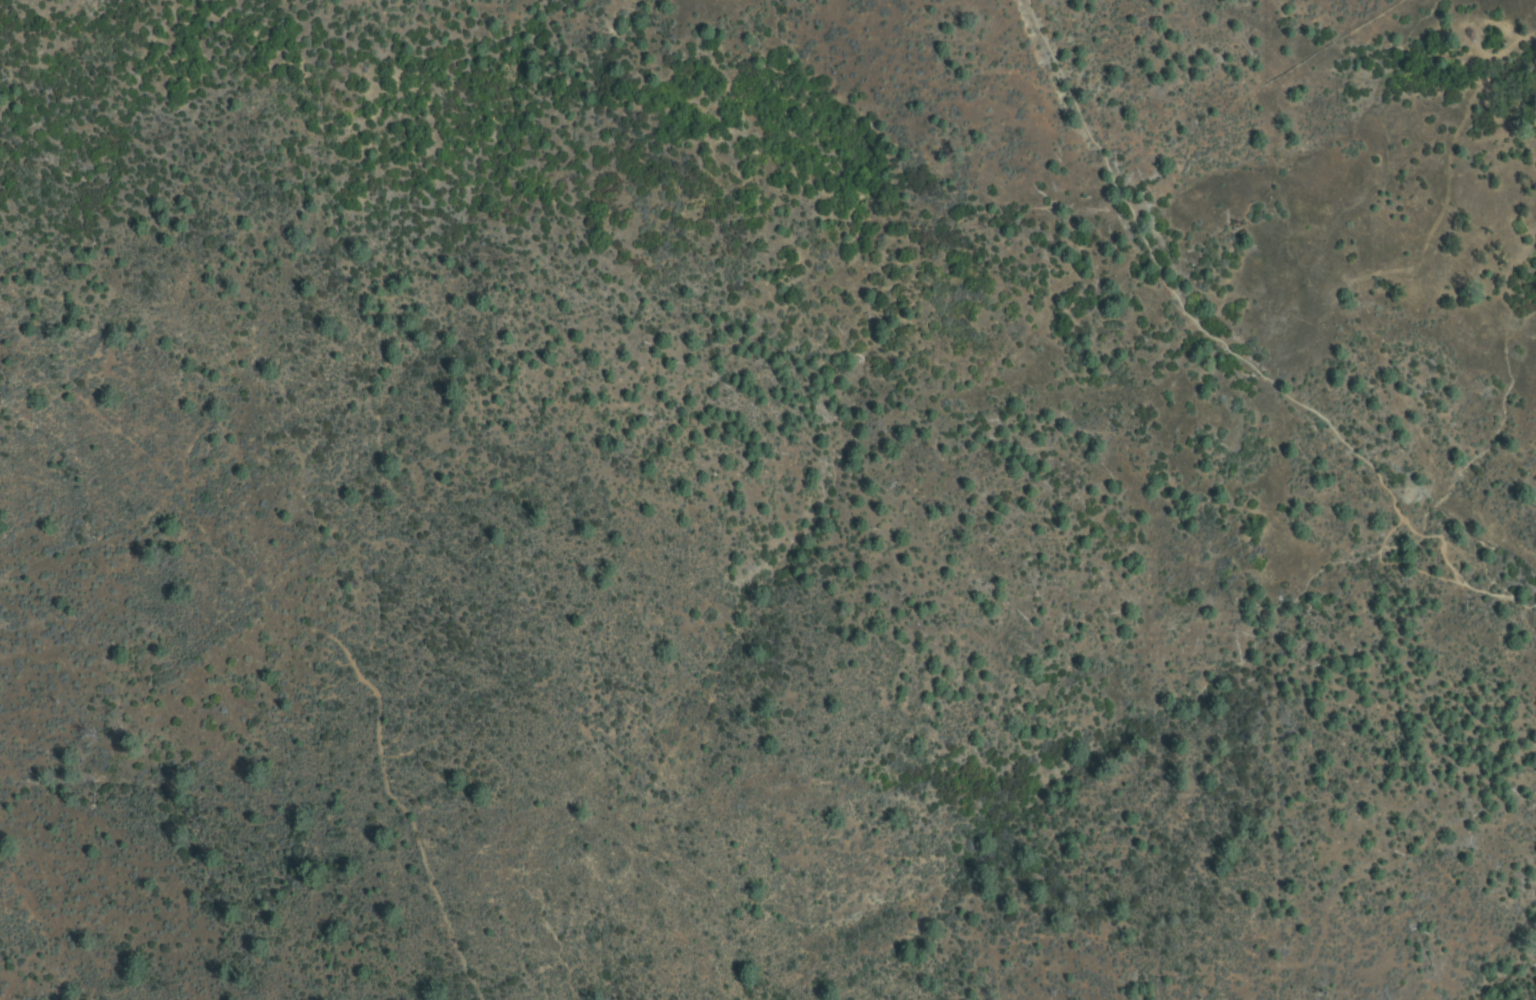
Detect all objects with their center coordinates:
road: (1231, 354)

